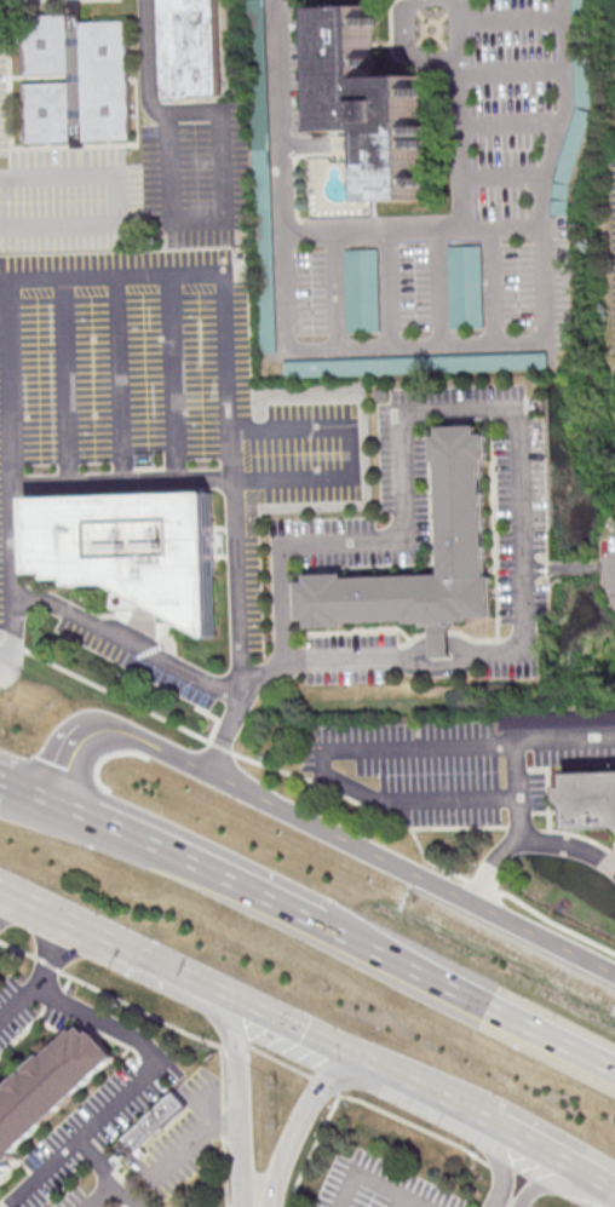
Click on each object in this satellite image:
road: (413, 4)
road: (423, 16)
road: (442, 17)
road: (511, 18)
road: (427, 21)
road: (421, 38)
road: (442, 41)
building: (191, 47)
road: (148, 51)
road: (414, 51)
road: (513, 69)
building: (77, 77)
building: (582, 82)
building: (373, 102)
road: (461, 114)
road: (511, 123)
building: (568, 160)
road: (504, 174)
road: (123, 196)
road: (219, 222)
road: (501, 226)
road: (373, 232)
road: (119, 278)
road: (493, 283)
road: (439, 286)
building: (465, 286)
road: (389, 288)
road: (337, 289)
building: (361, 289)
road: (414, 343)
building: (415, 363)
road: (174, 377)
road: (119, 378)
road: (65, 379)
road: (504, 409)
road: (350, 453)
road: (182, 476)
building: (467, 518)
building: (136, 550)
road: (570, 570)
road: (126, 640)
building: (557, 718)
road: (460, 745)
road: (1, 778)
road: (317, 782)
road: (355, 786)
road: (516, 787)
road: (28, 789)
road: (452, 800)
building: (593, 801)
road: (523, 834)
road: (321, 837)
road: (185, 860)
road: (4, 895)
road: (52, 909)
road: (17, 947)
road: (46, 962)
road: (169, 967)
road: (44, 976)
road: (466, 996)
road: (140, 1008)
road: (309, 1034)
road: (235, 1044)
traffic signals: (362, 1059)
road: (136, 1079)
building: (52, 1090)
road: (436, 1093)
road: (240, 1103)
road: (369, 1103)
building: (155, 1121)
road: (300, 1122)
road: (223, 1125)
road: (194, 1143)
road: (312, 1149)
road: (552, 1153)
road: (96, 1161)
road: (501, 1163)
road: (373, 1182)
road: (547, 1182)
road: (115, 1184)
road: (398, 1201)

